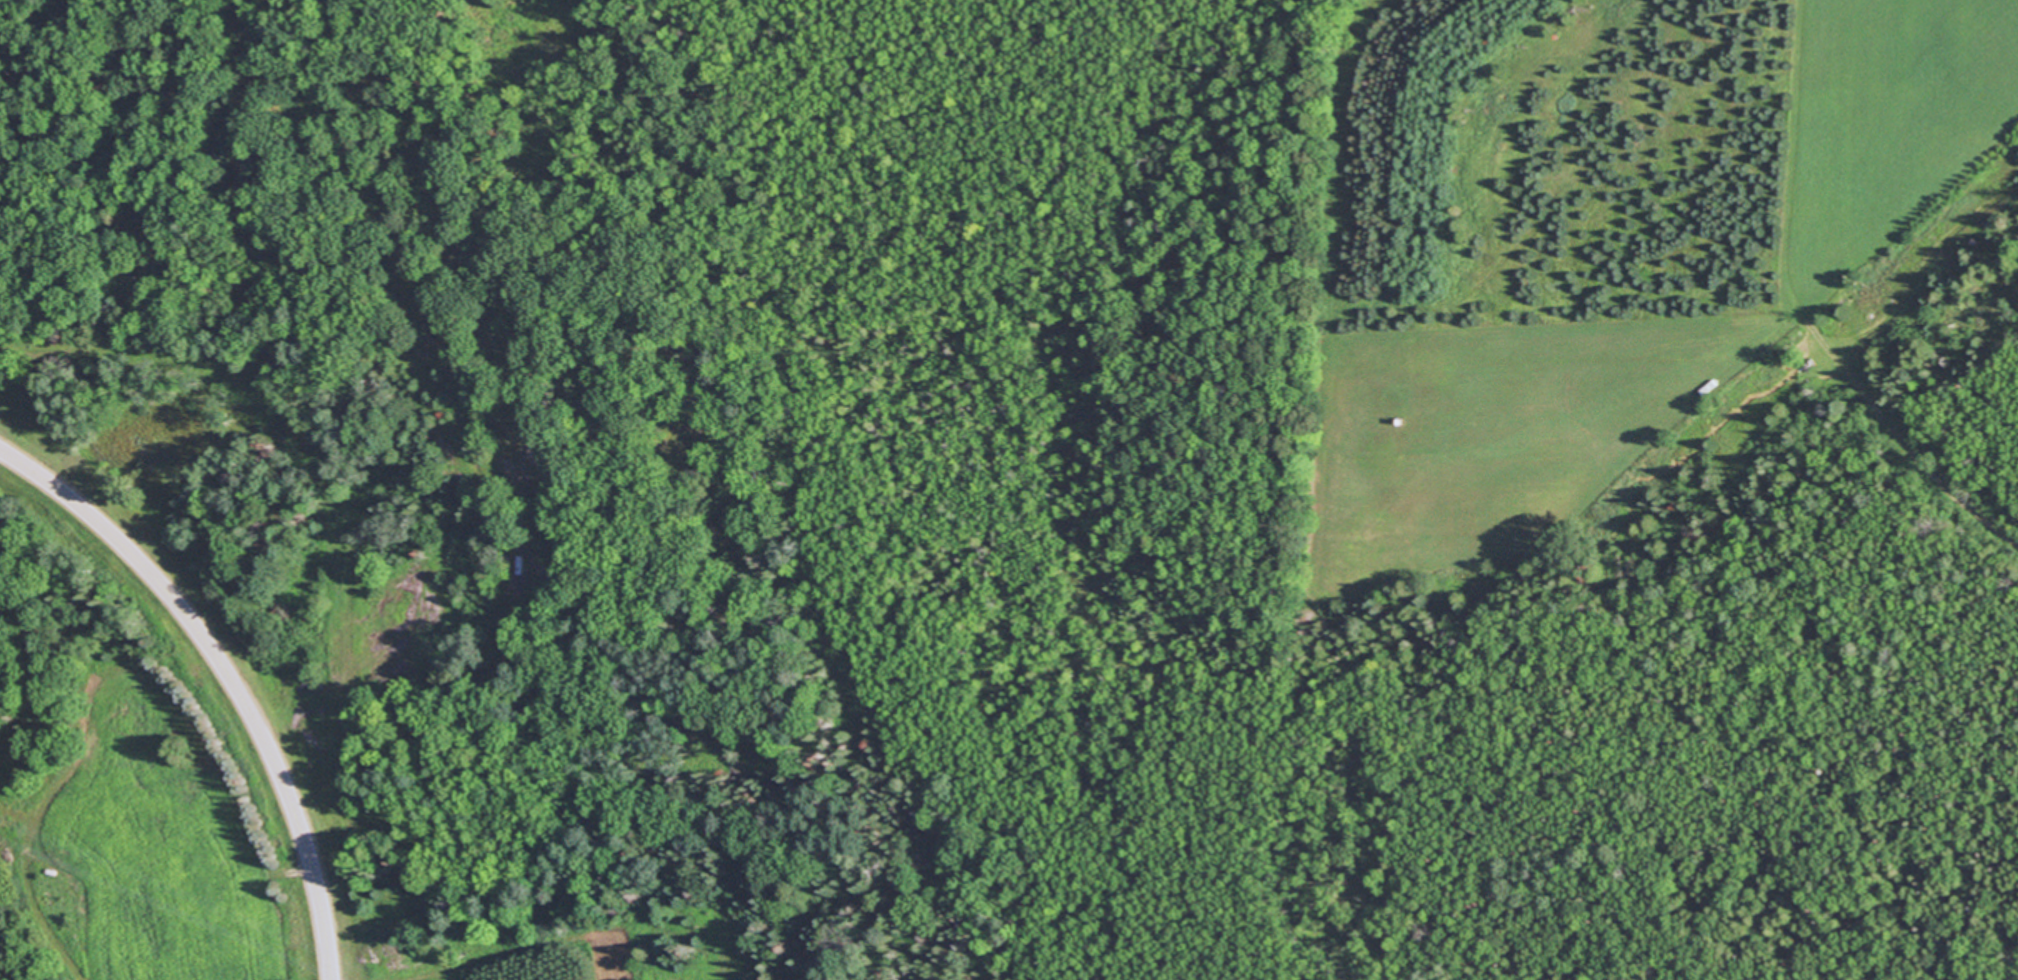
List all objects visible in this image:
building: (521, 564)
road: (231, 673)

